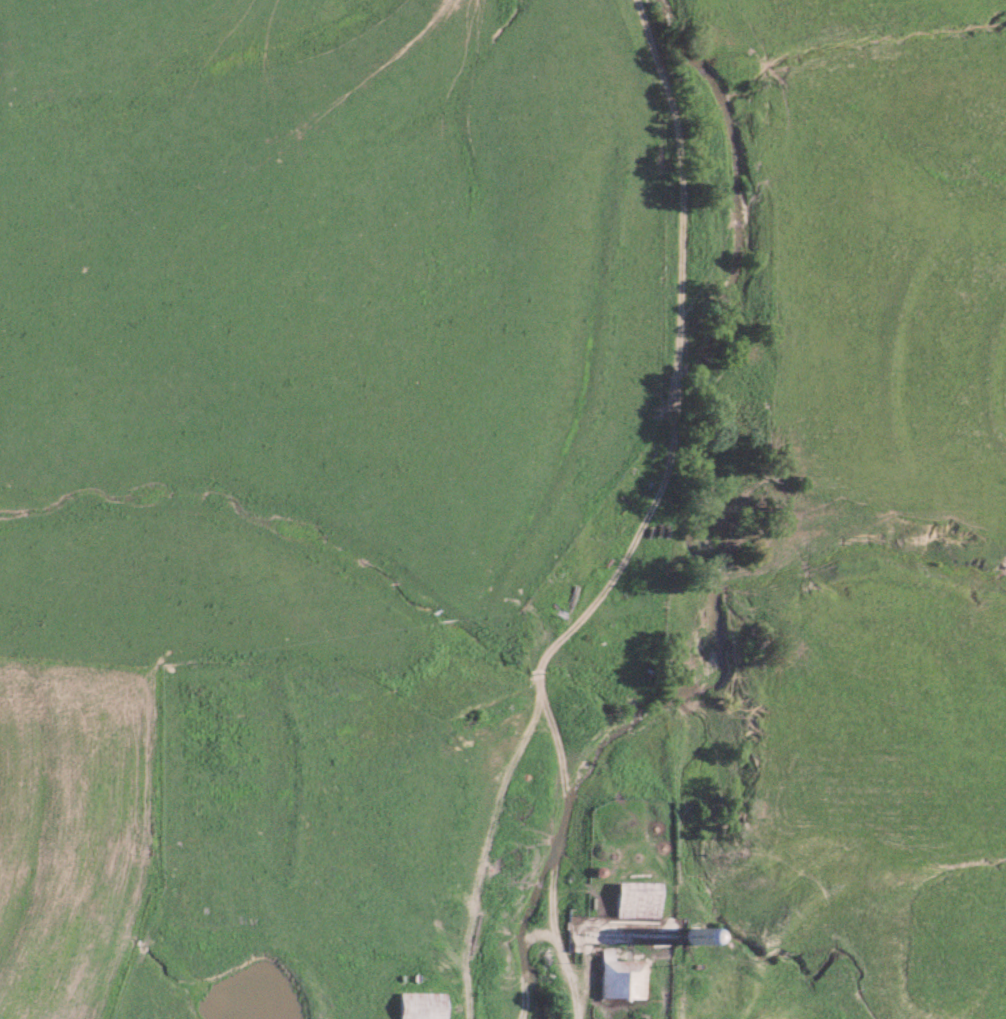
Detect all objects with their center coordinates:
building: (622, 976)
road: (682, 977)
building: (422, 1005)

